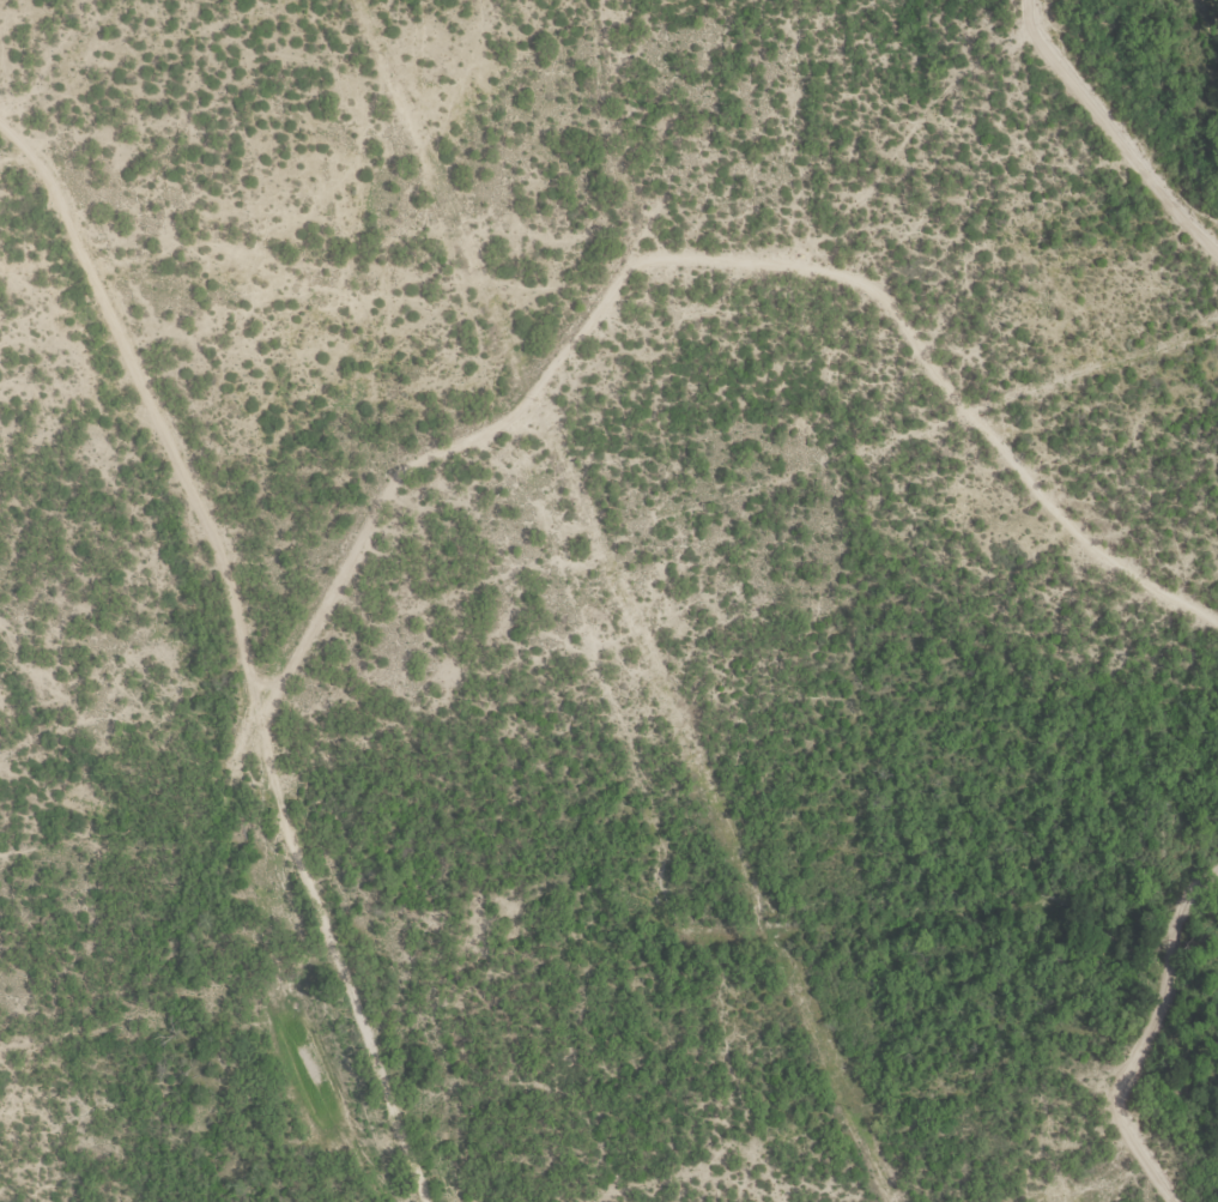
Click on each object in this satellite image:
road: (60, 60)
road: (715, 254)
road: (260, 639)

